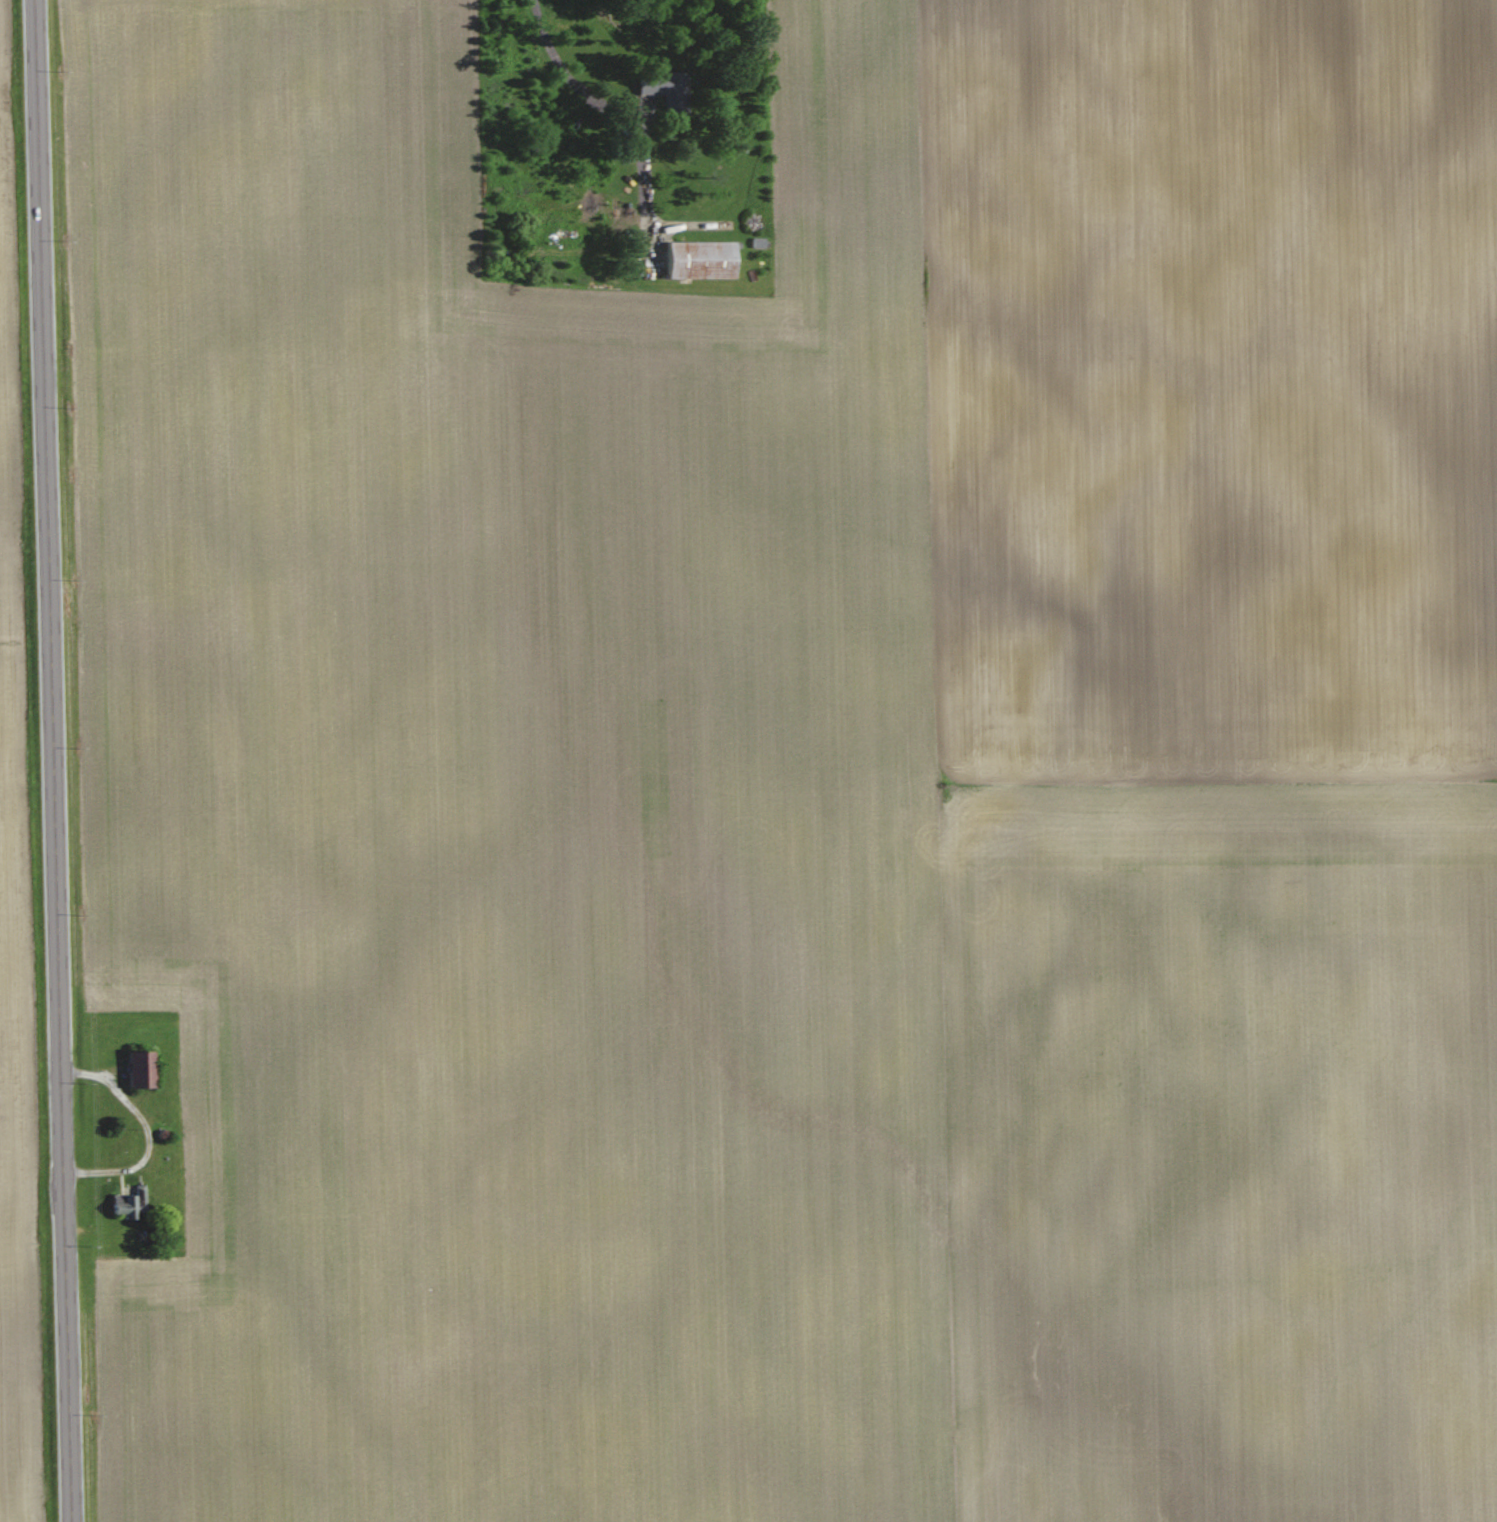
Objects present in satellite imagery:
building: (703, 258)
road: (52, 761)
building: (144, 1068)
building: (130, 1198)

